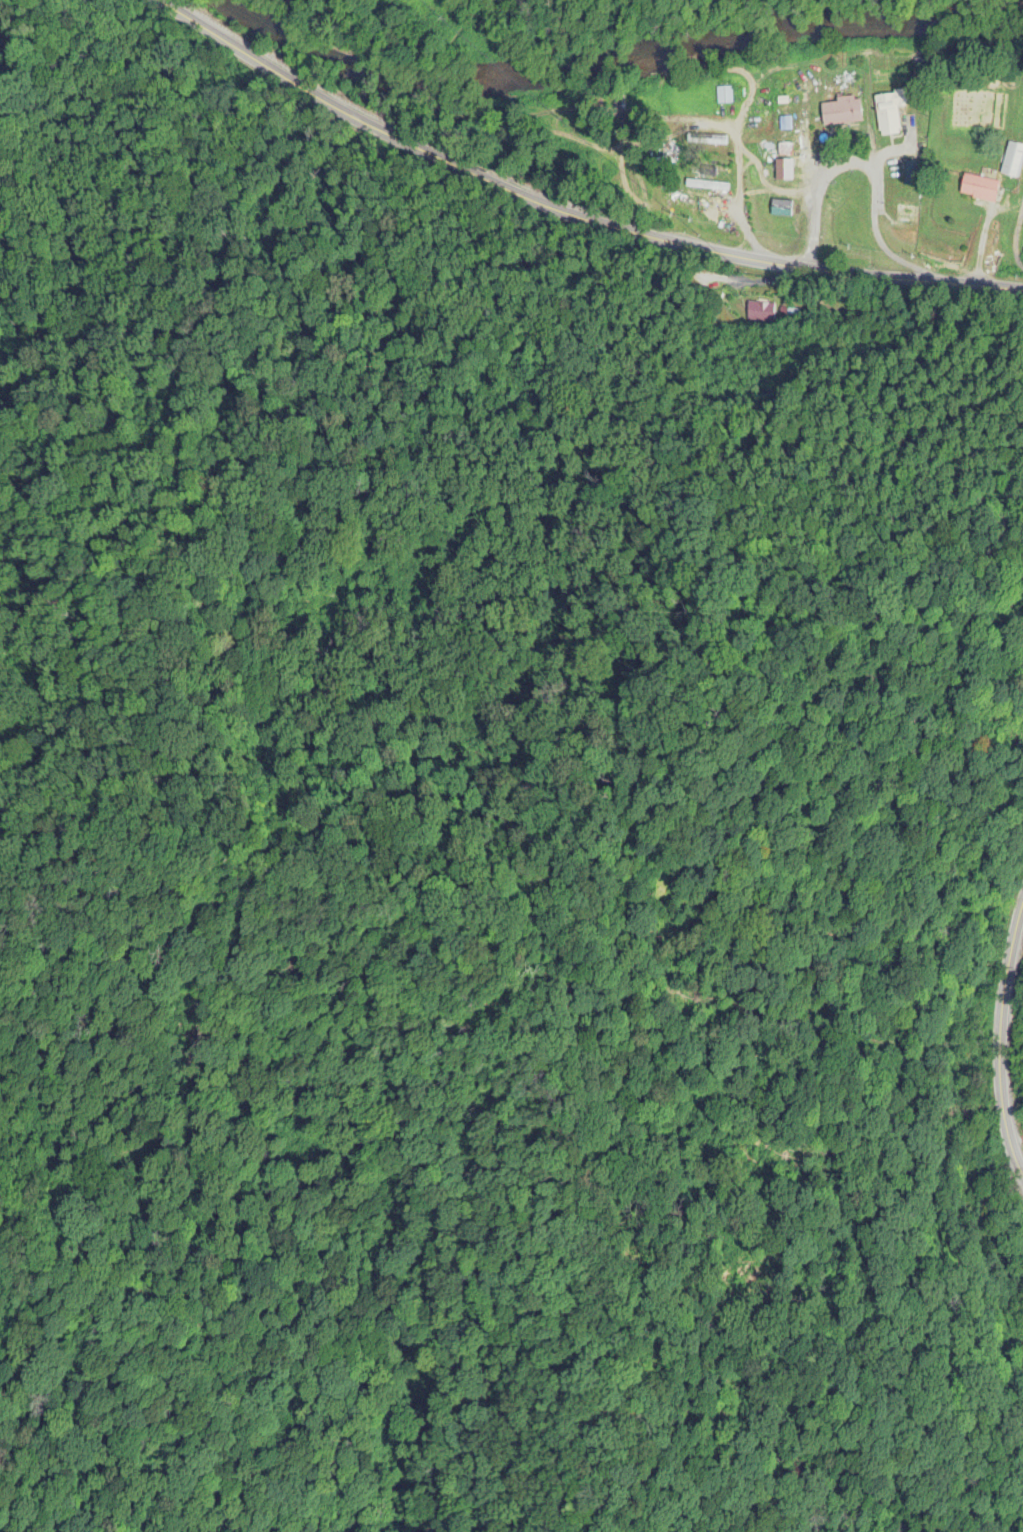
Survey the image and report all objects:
river: (618, 64)
building: (691, 97)
building: (889, 112)
building: (840, 113)
building: (1012, 161)
building: (911, 174)
building: (978, 189)
building: (904, 214)
road: (561, 216)
building: (760, 313)
road: (1000, 1043)

